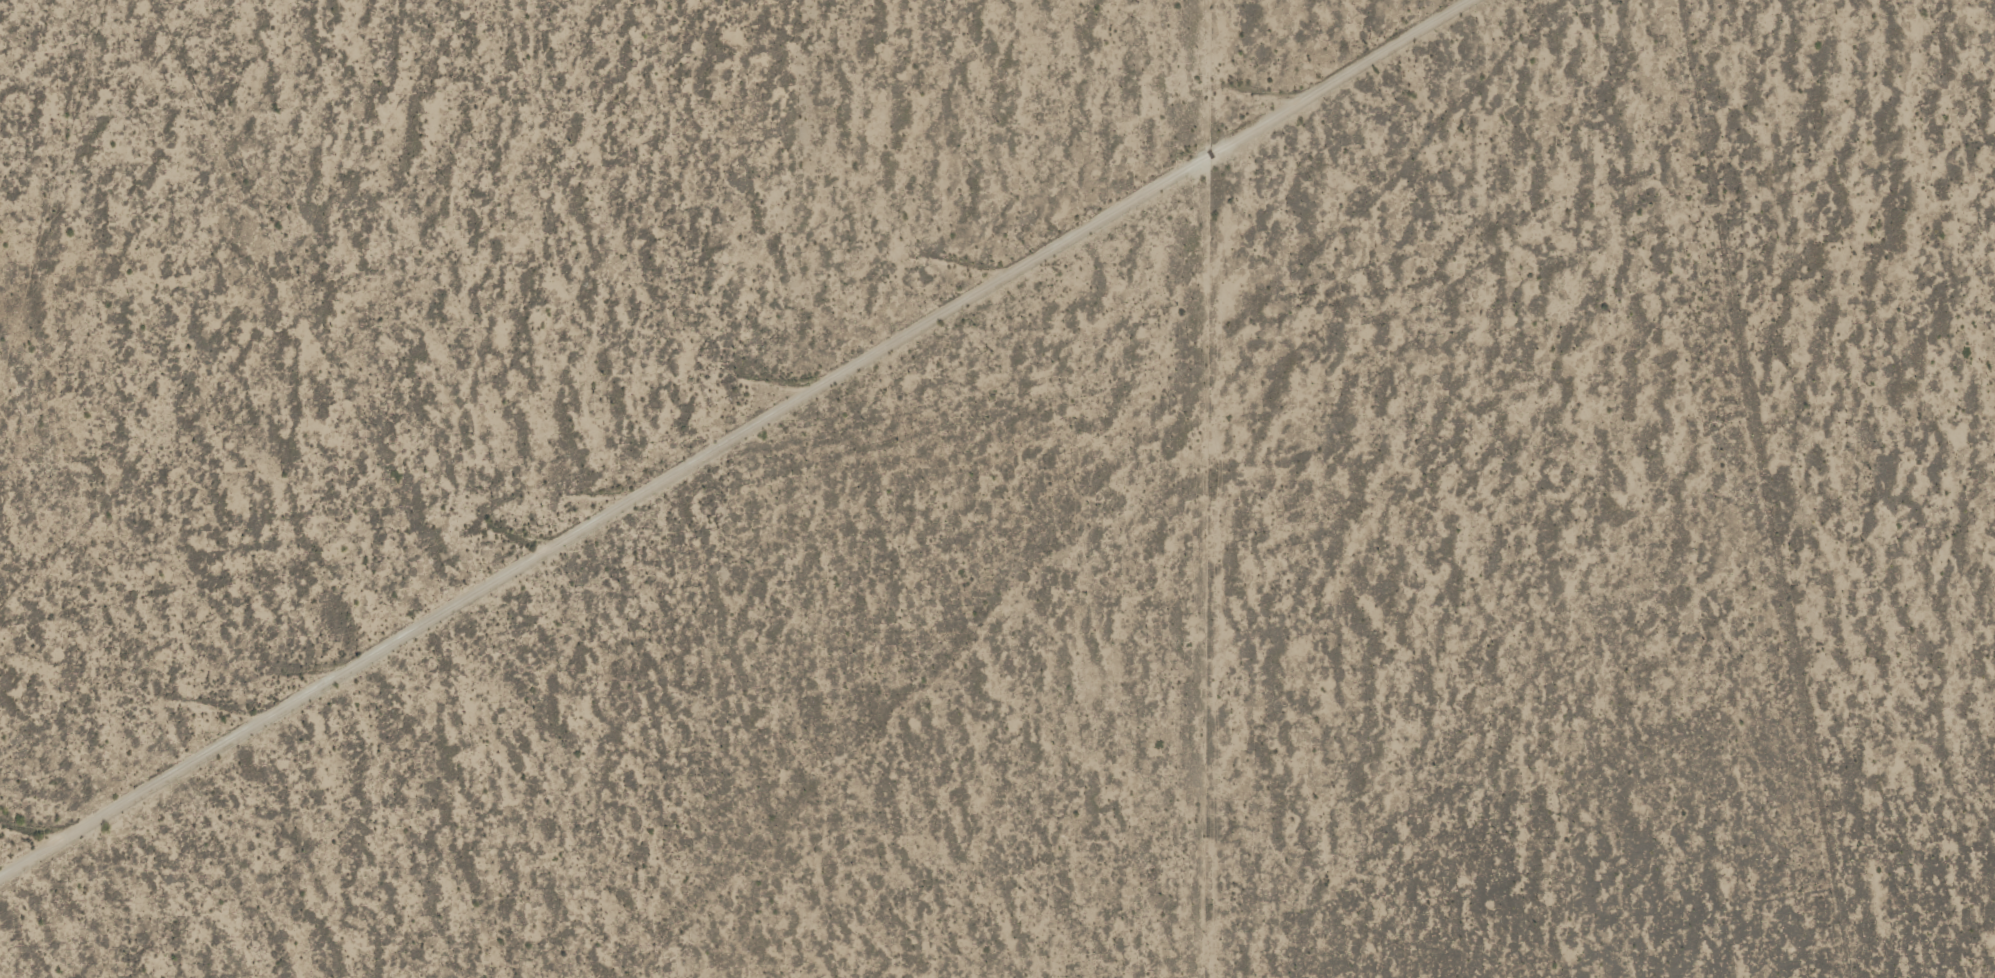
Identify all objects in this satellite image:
road: (758, 440)
road: (1746, 488)

